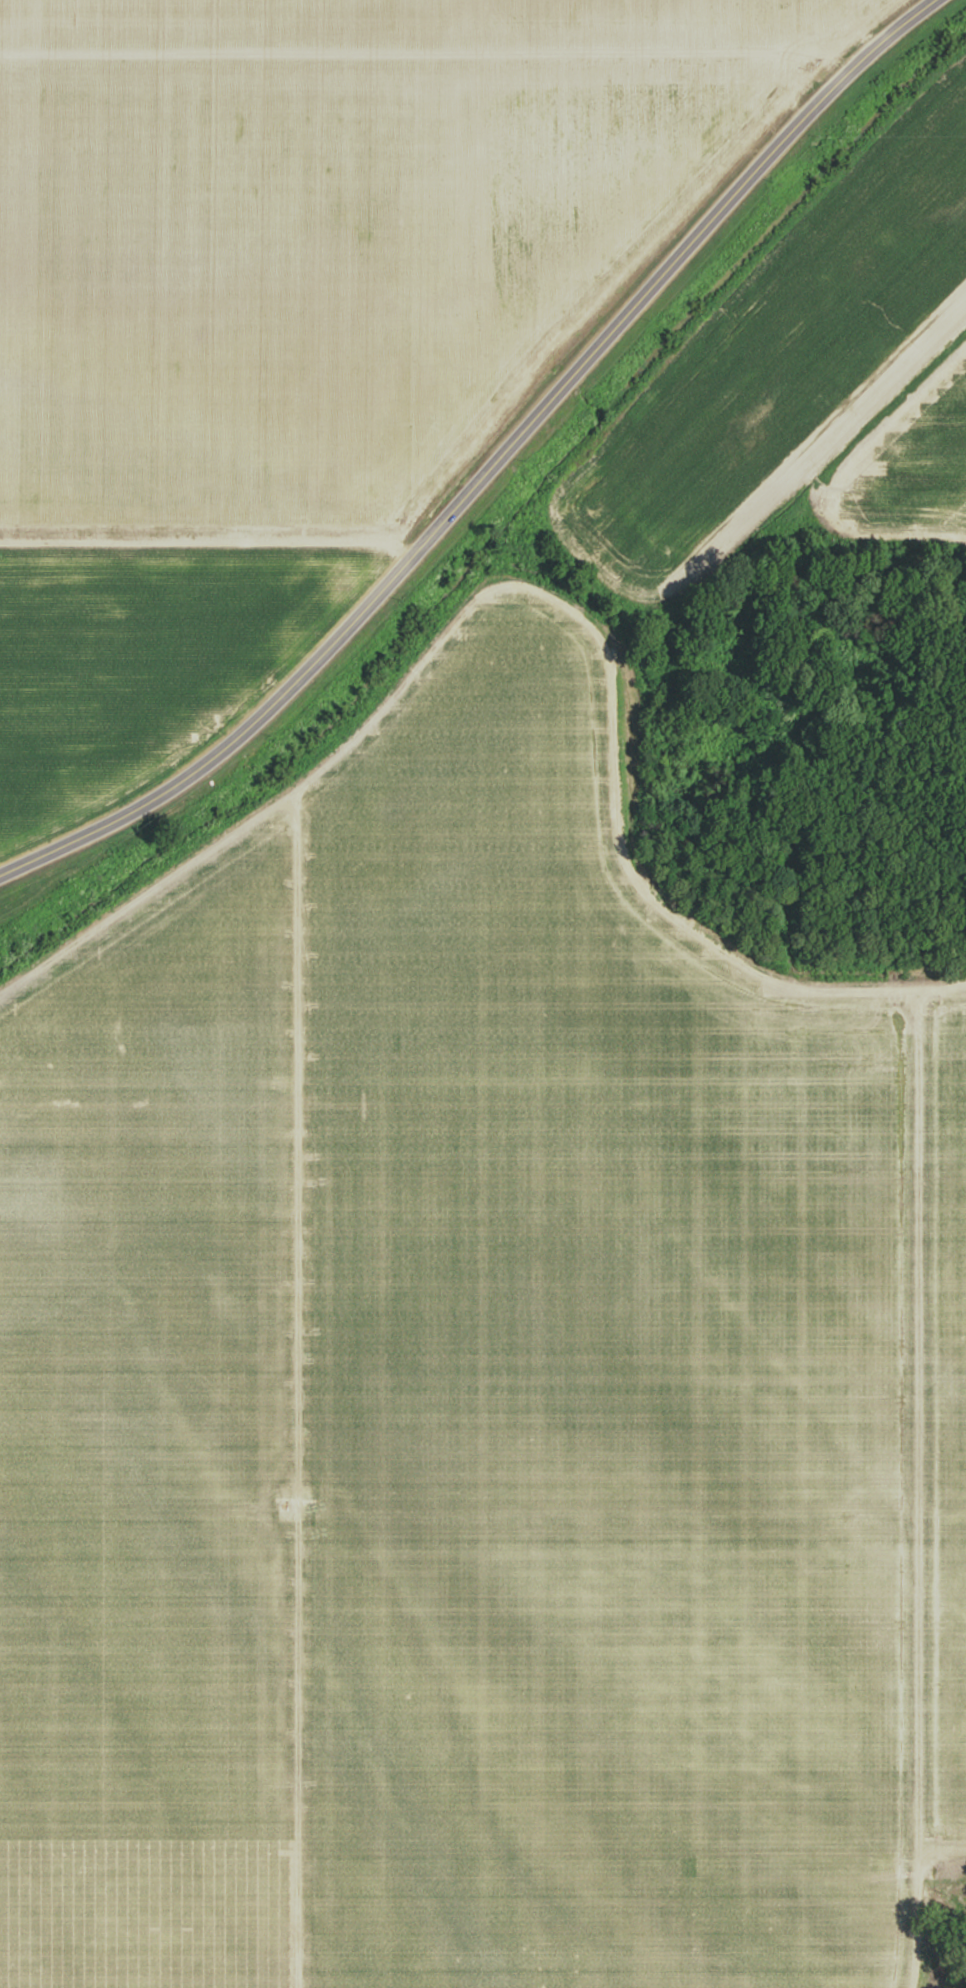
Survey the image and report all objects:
road: (492, 469)

